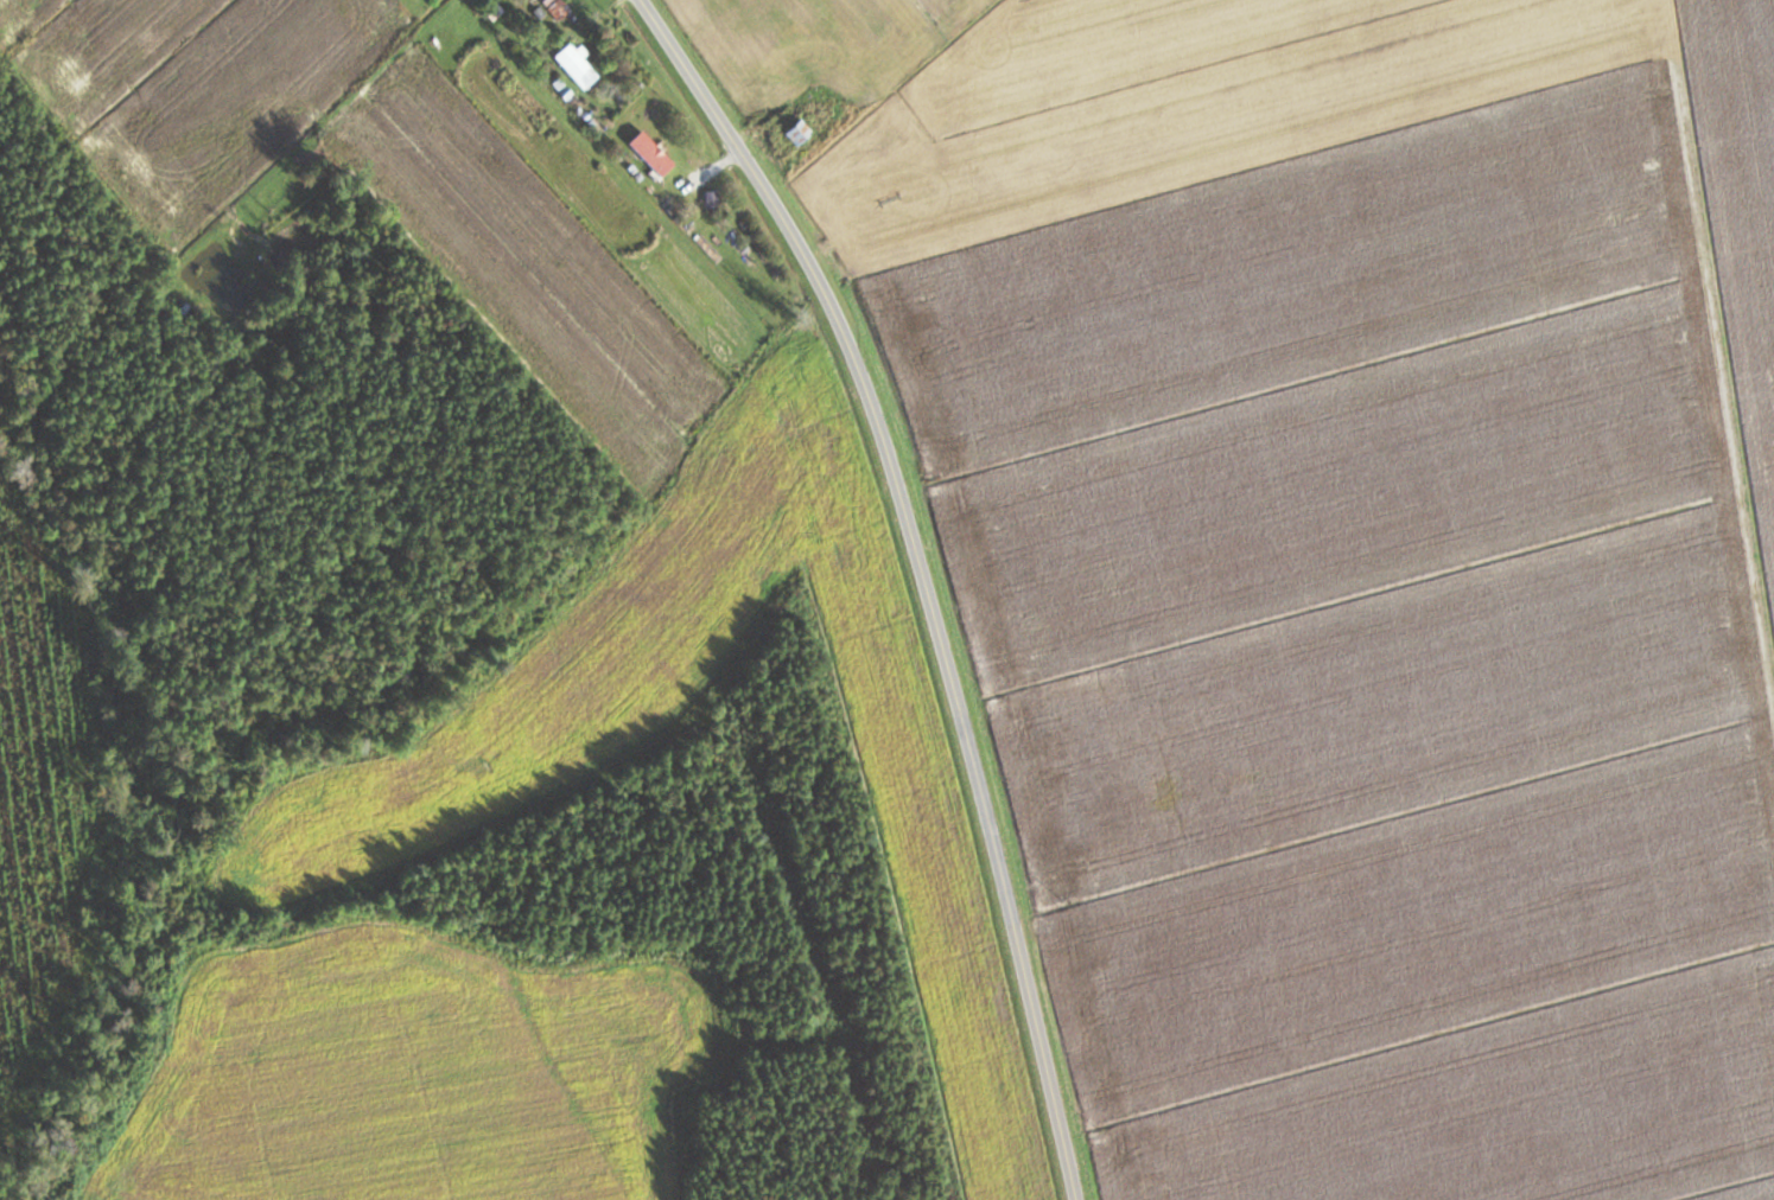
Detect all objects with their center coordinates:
building: (554, 7)
road: (566, 30)
building: (573, 64)
building: (796, 130)
building: (648, 152)
road: (922, 574)

